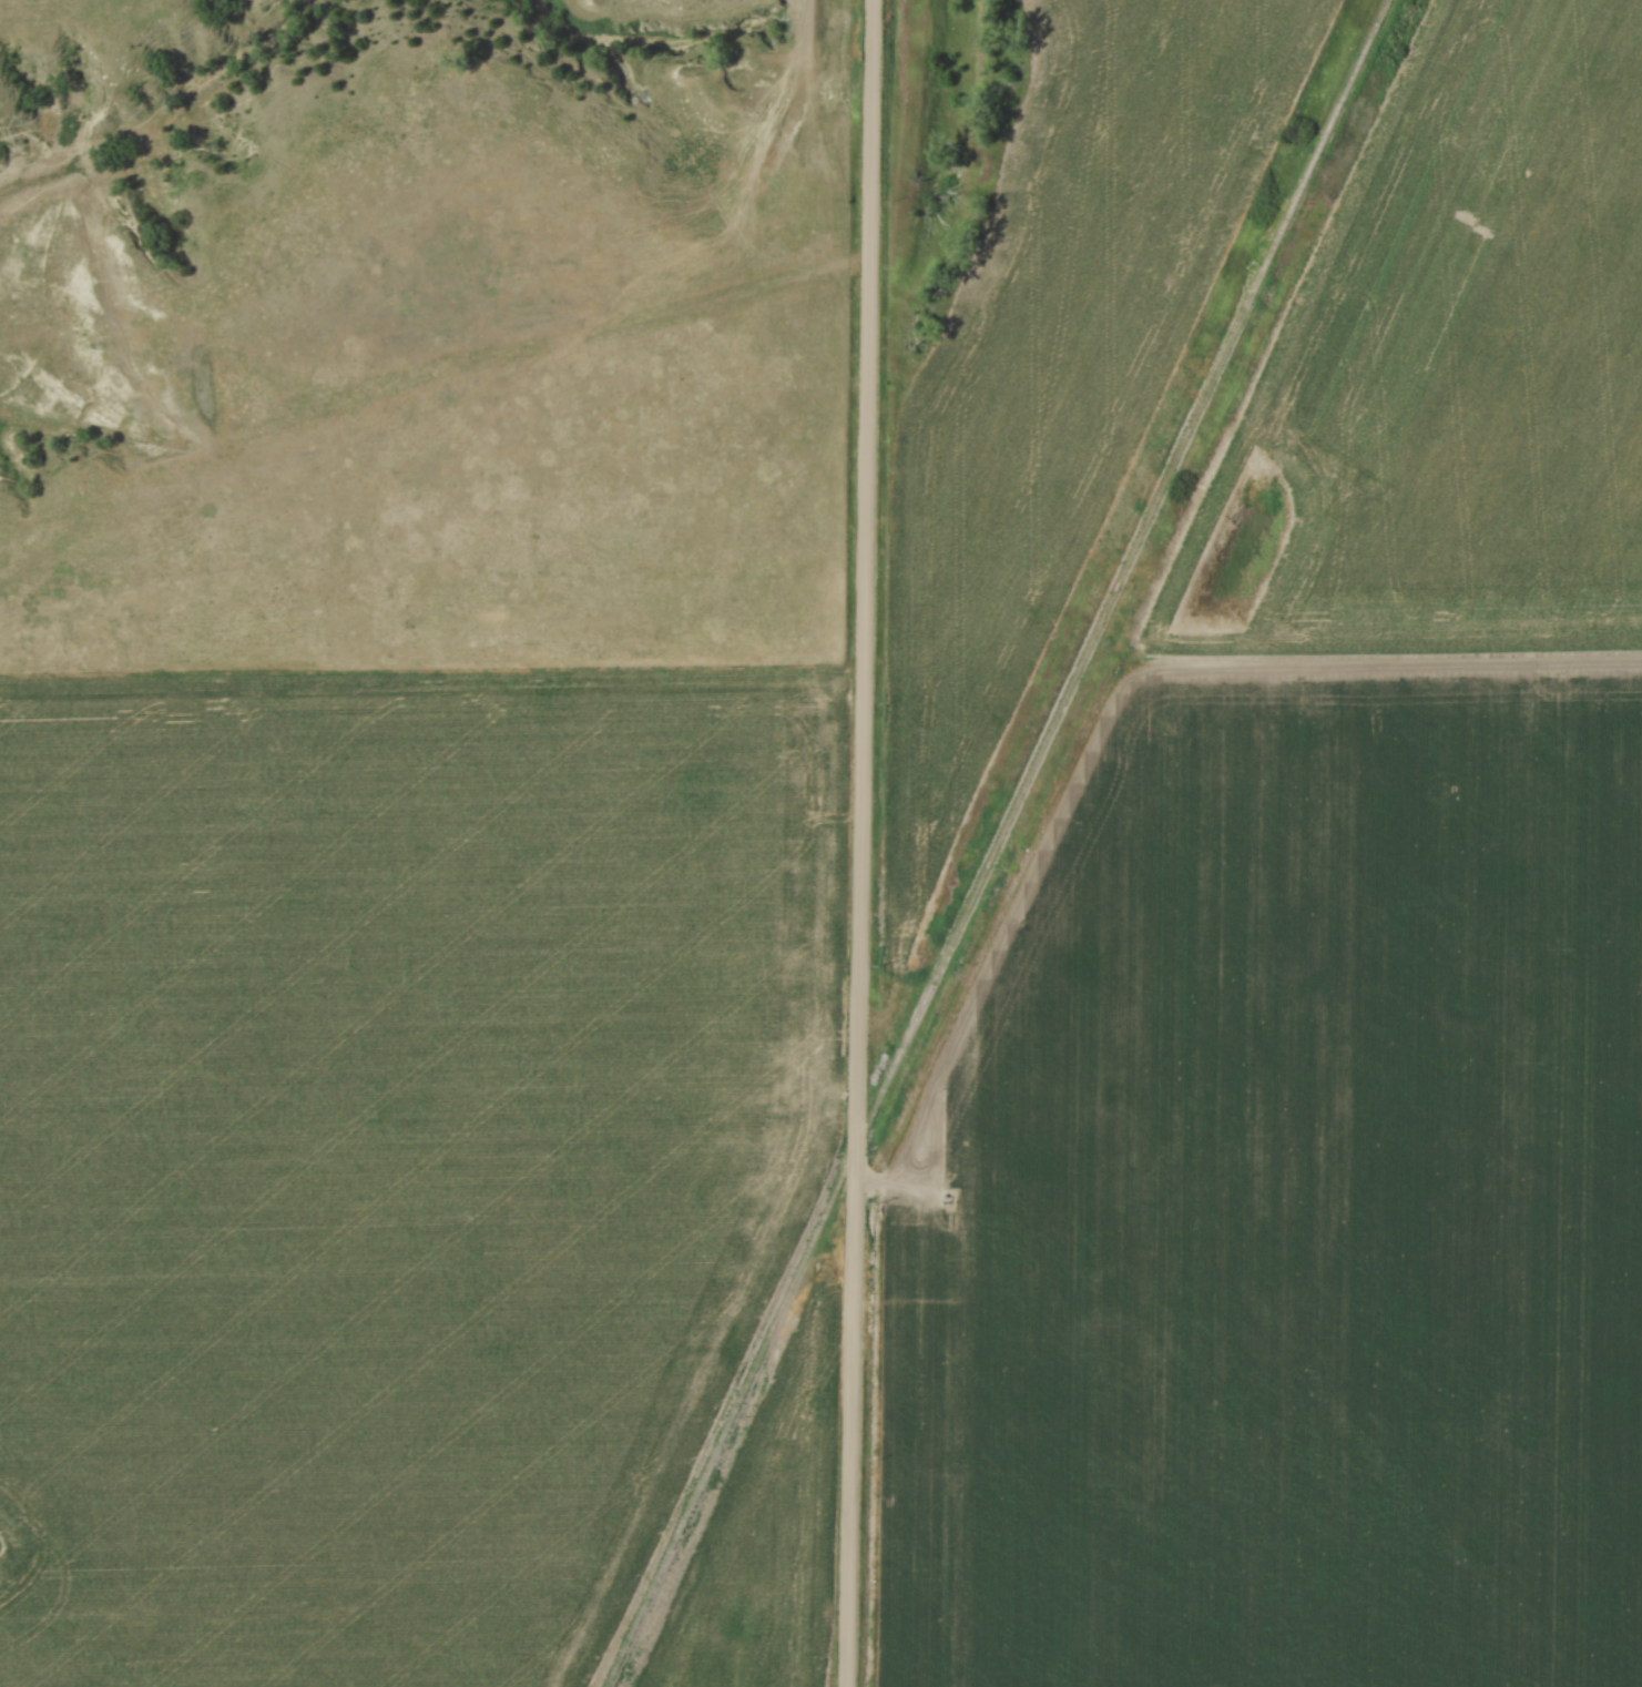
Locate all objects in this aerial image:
crop: (1063, 360)
crop: (1458, 368)
road: (859, 843)
railway: (1010, 844)
crop: (392, 1149)
crop: (1296, 1212)
crop: (769, 1544)

